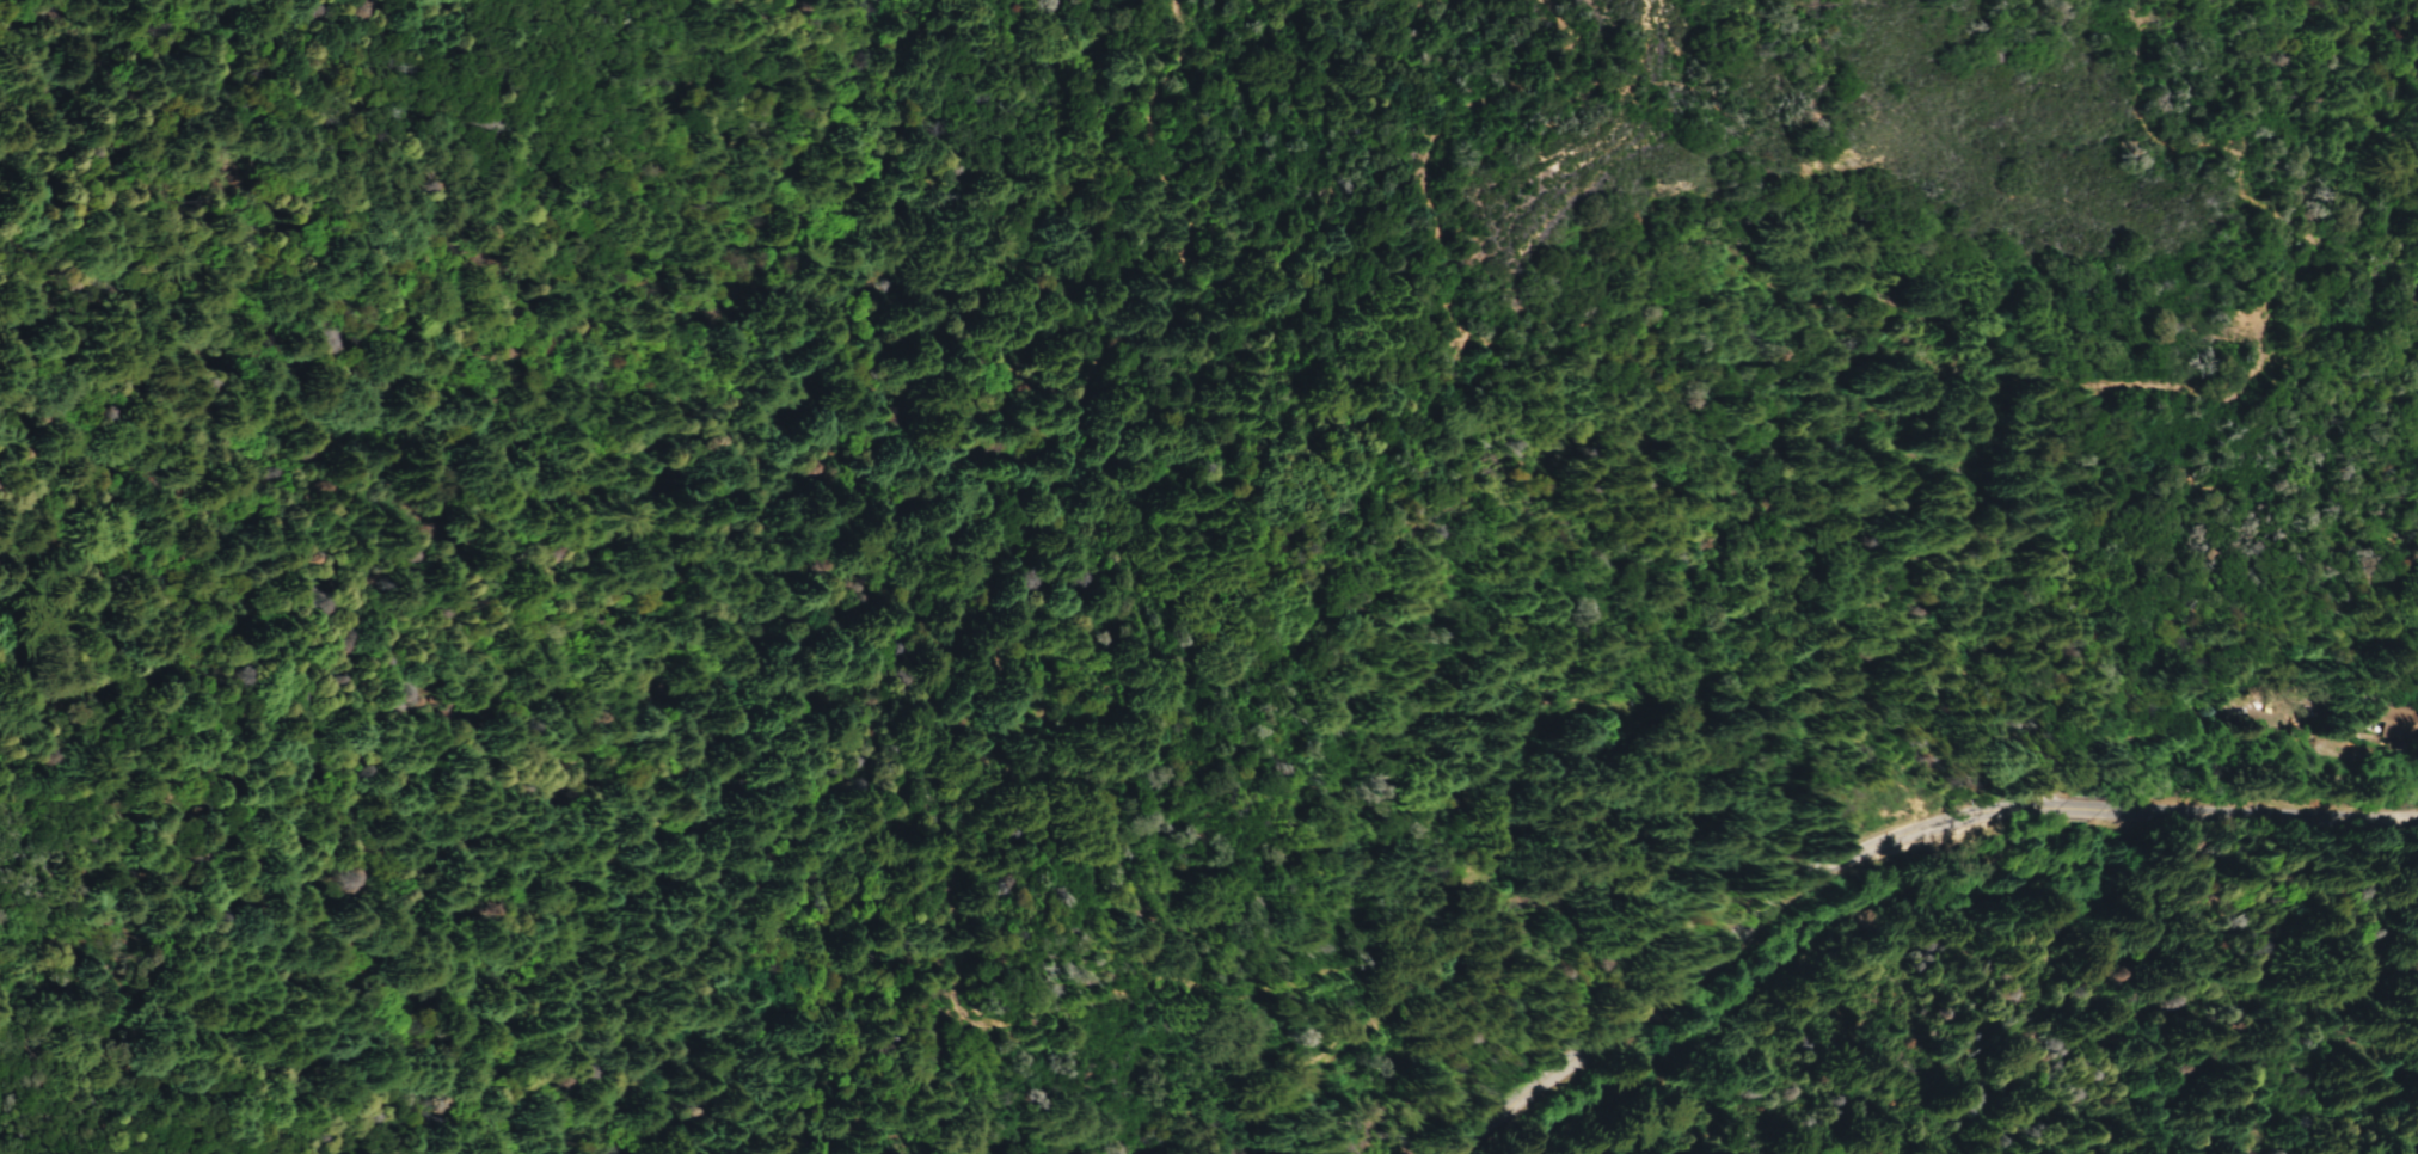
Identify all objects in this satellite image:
road: (1185, 235)
road: (1702, 333)
building: (2327, 705)
building: (2402, 720)
building: (2376, 735)
road: (2104, 808)
road: (2270, 809)
road: (1754, 939)
road: (1122, 990)

